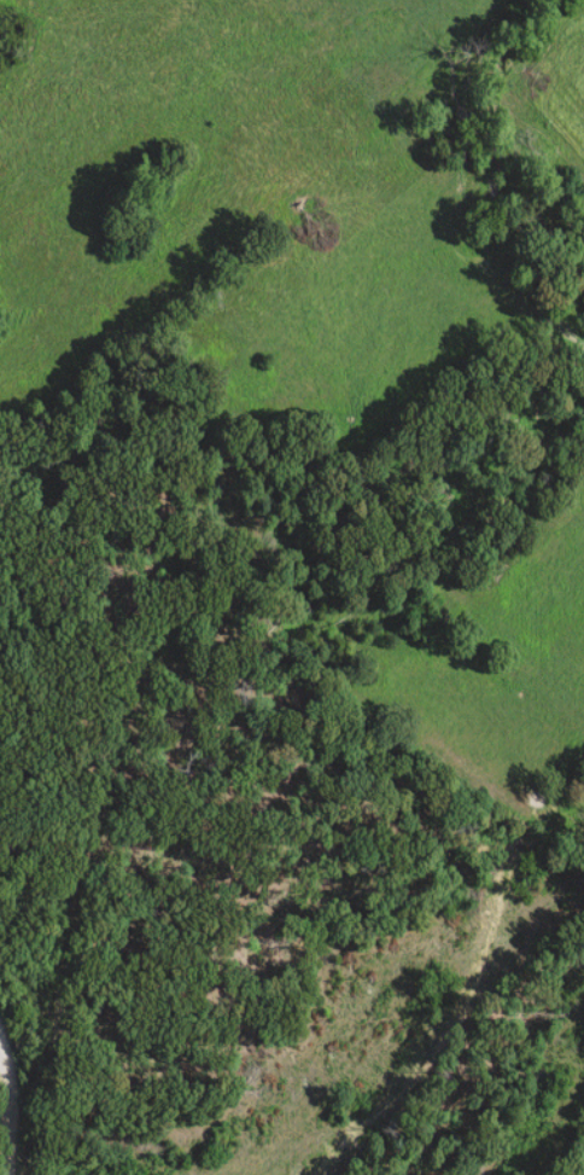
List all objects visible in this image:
road: (4, 1107)

